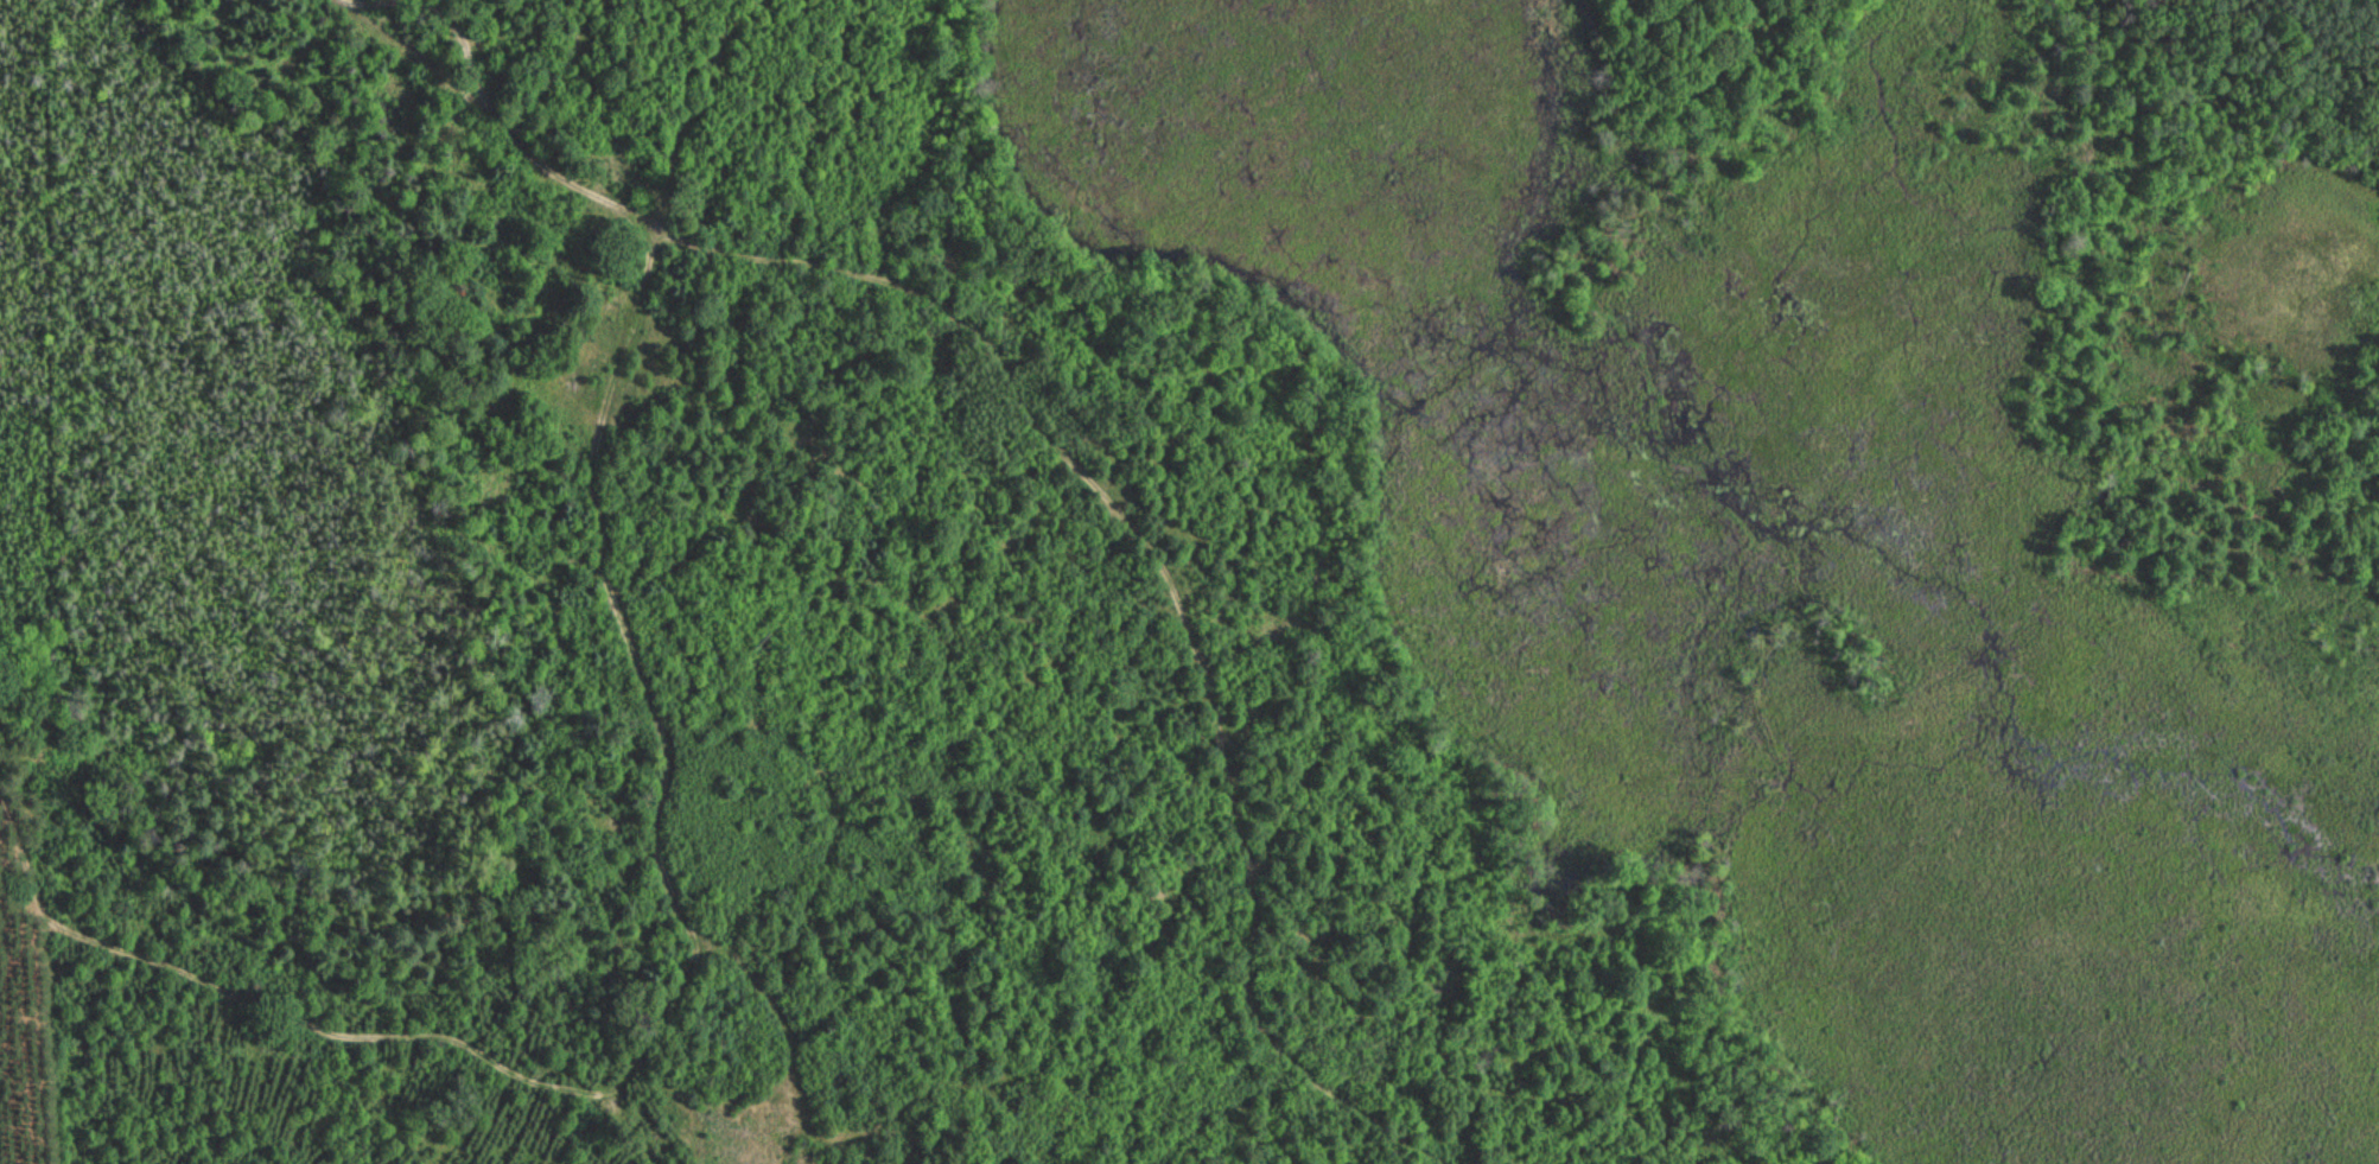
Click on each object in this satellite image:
road: (500, 115)
road: (852, 282)
road: (261, 997)
road: (631, 1127)

